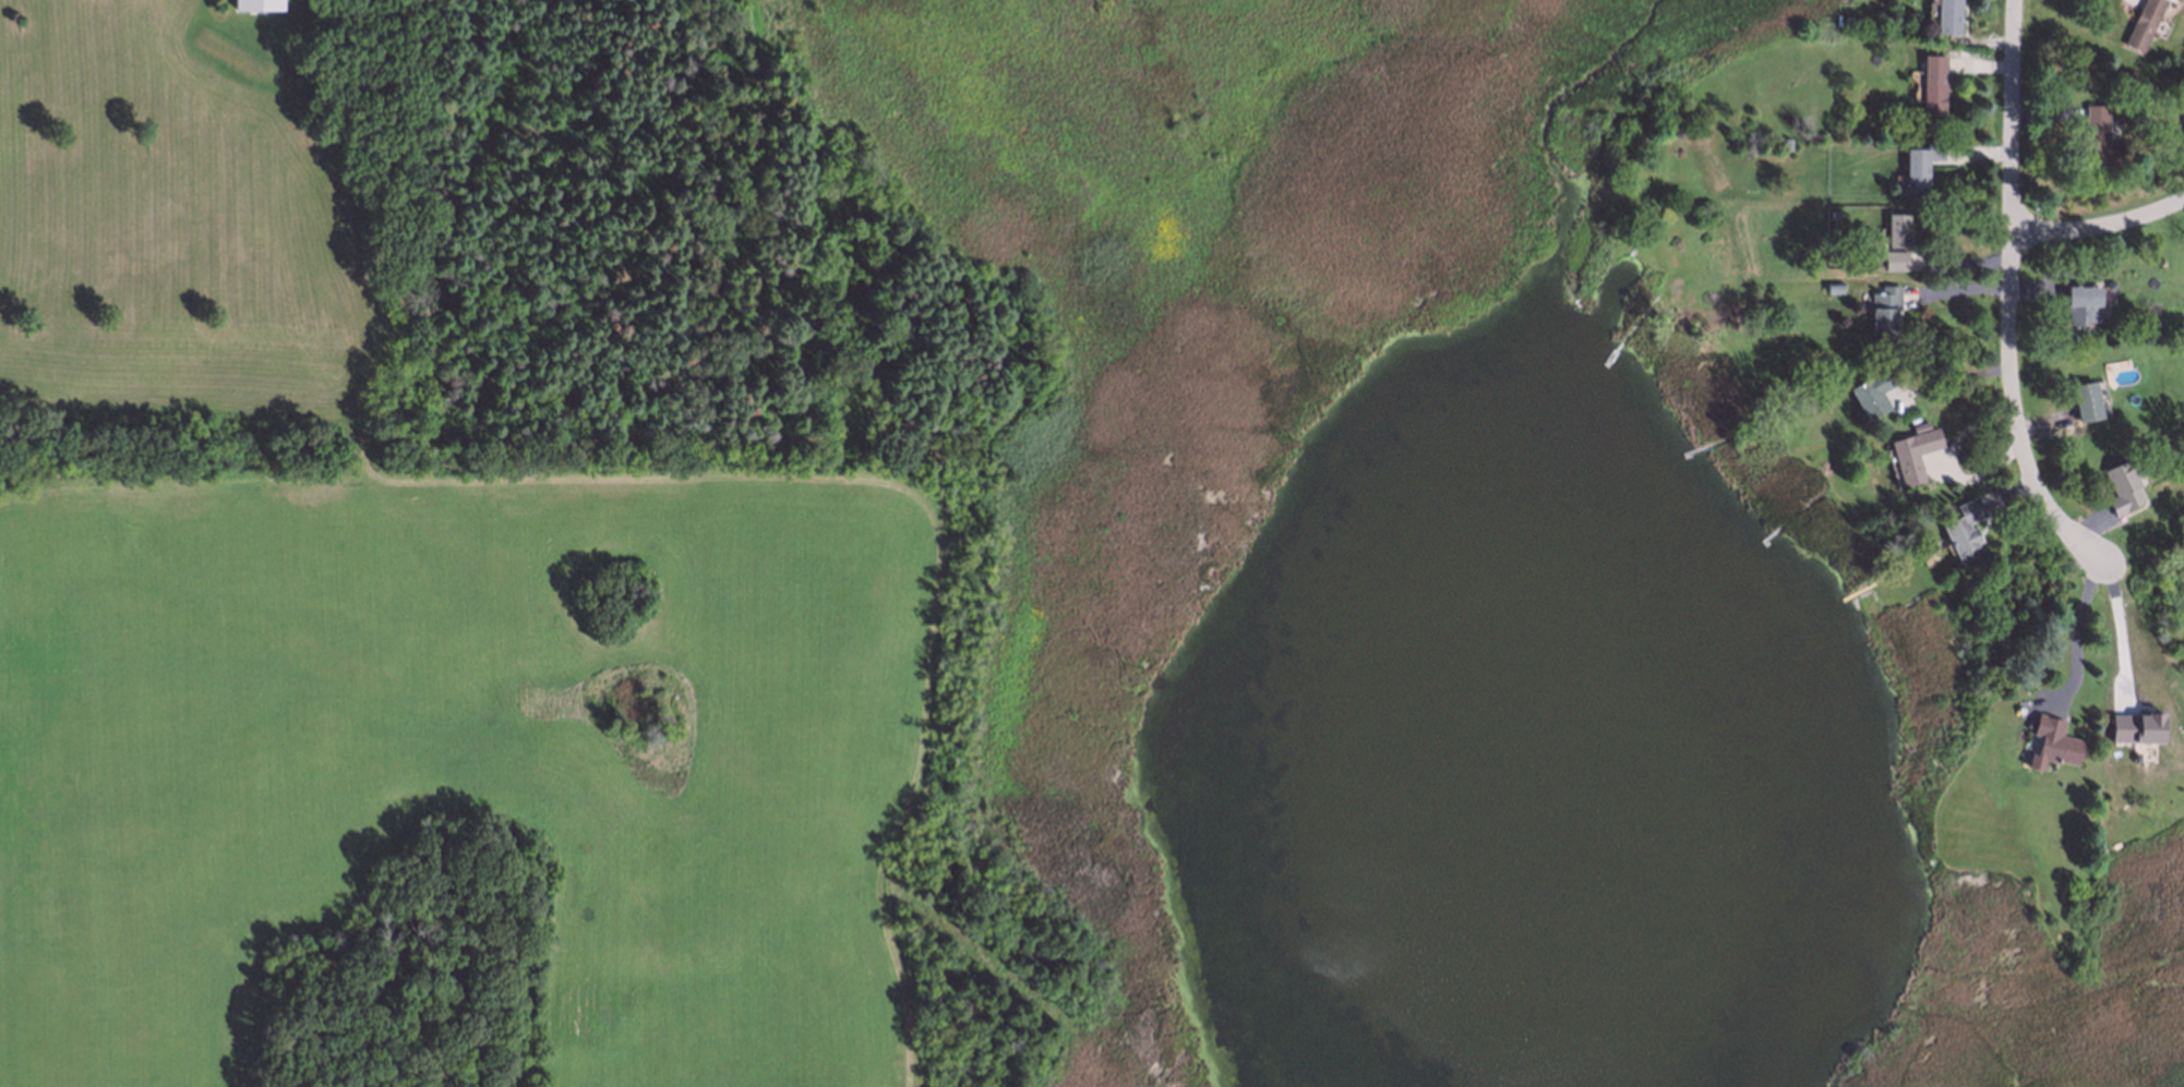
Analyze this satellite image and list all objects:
building: (2182, 0)
building: (260, 5)
building: (1946, 15)
building: (2143, 22)
building: (2122, 82)
building: (1932, 83)
building: (2097, 136)
building: (1783, 140)
building: (1919, 164)
building: (1832, 210)
road: (2102, 227)
building: (1895, 229)
building: (1893, 259)
building: (1831, 286)
road: (2013, 299)
building: (2080, 304)
building: (1882, 307)
building: (2156, 317)
building: (2129, 353)
road: (1953, 377)
building: (1870, 390)
building: (2083, 399)
building: (1910, 451)
building: (2120, 485)
building: (1961, 528)
road: (2125, 629)
road: (2077, 640)
building: (2052, 739)

